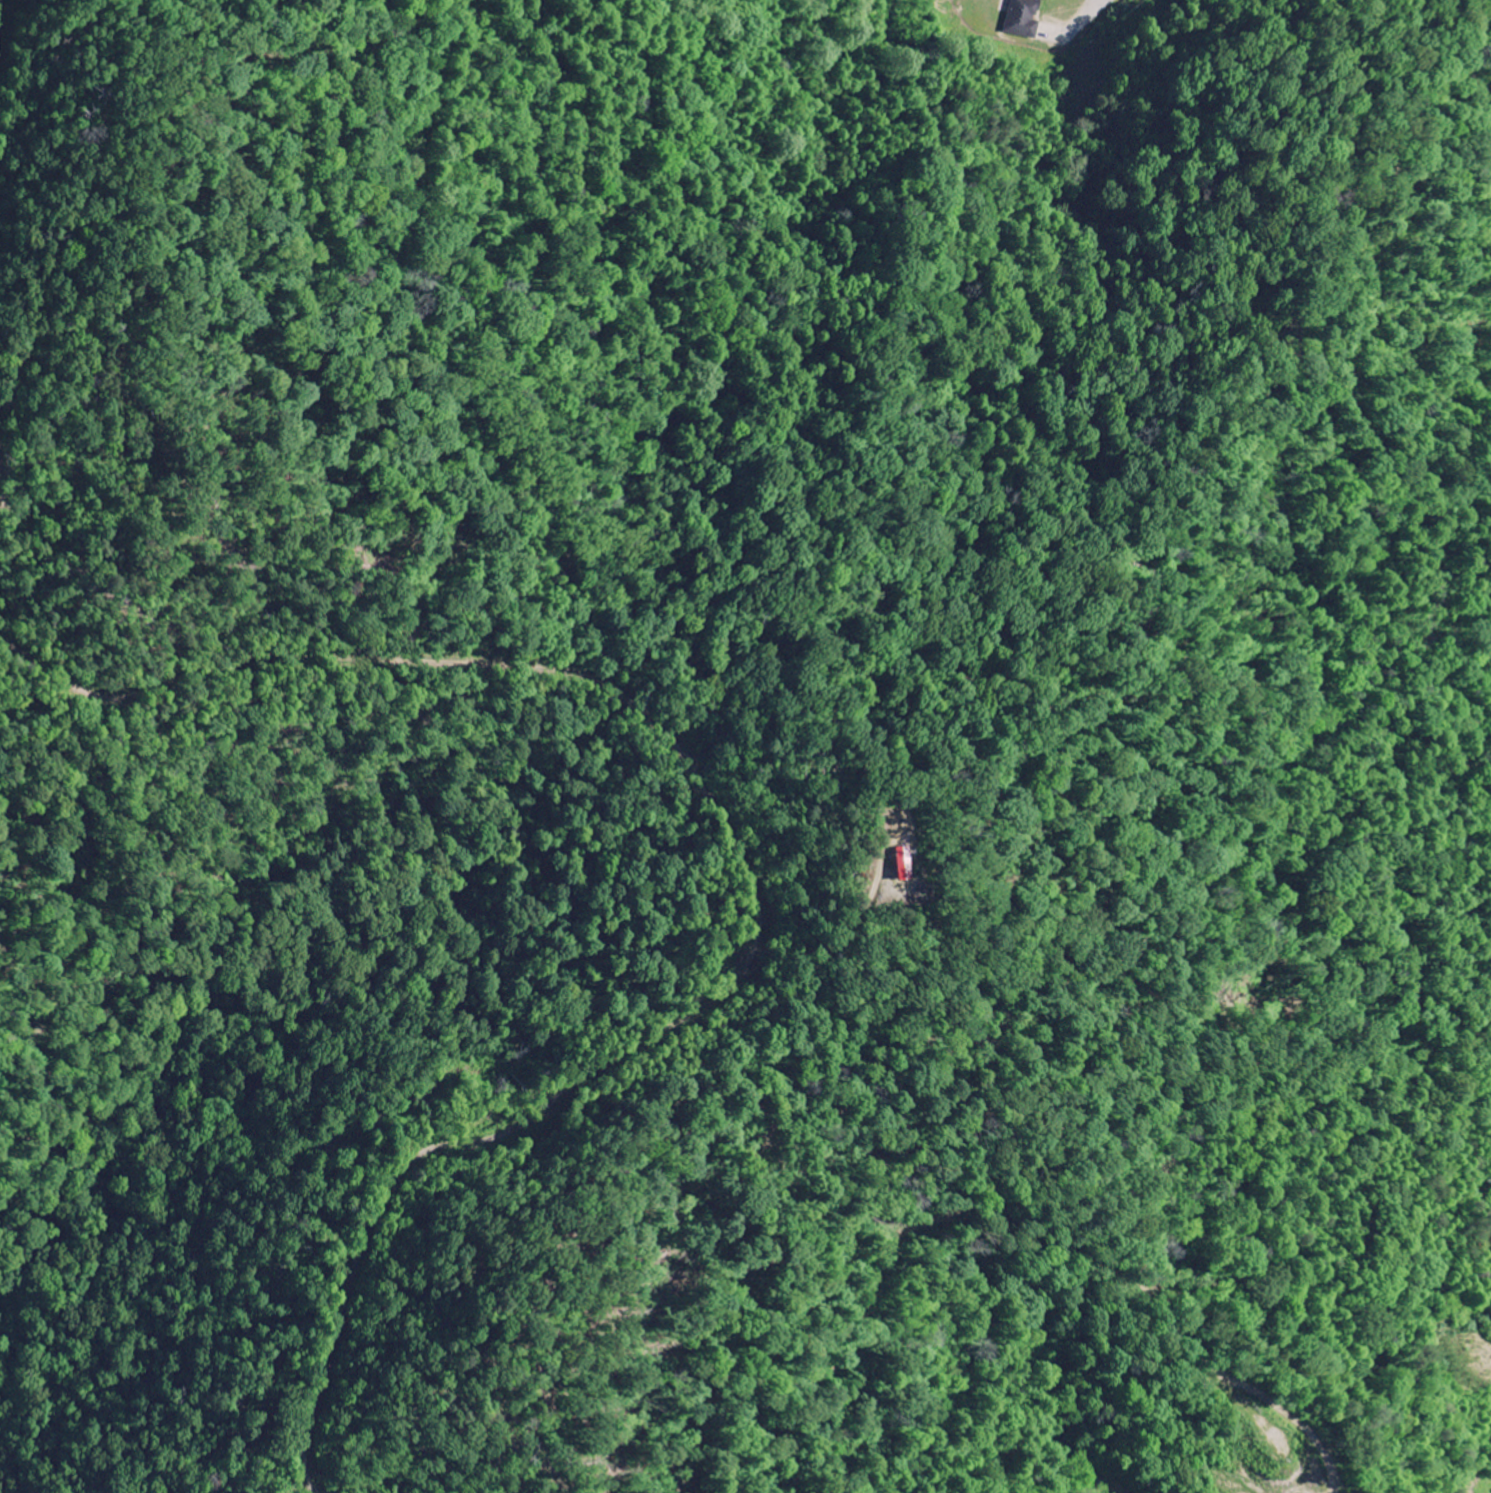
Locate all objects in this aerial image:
building: (1025, 18)

